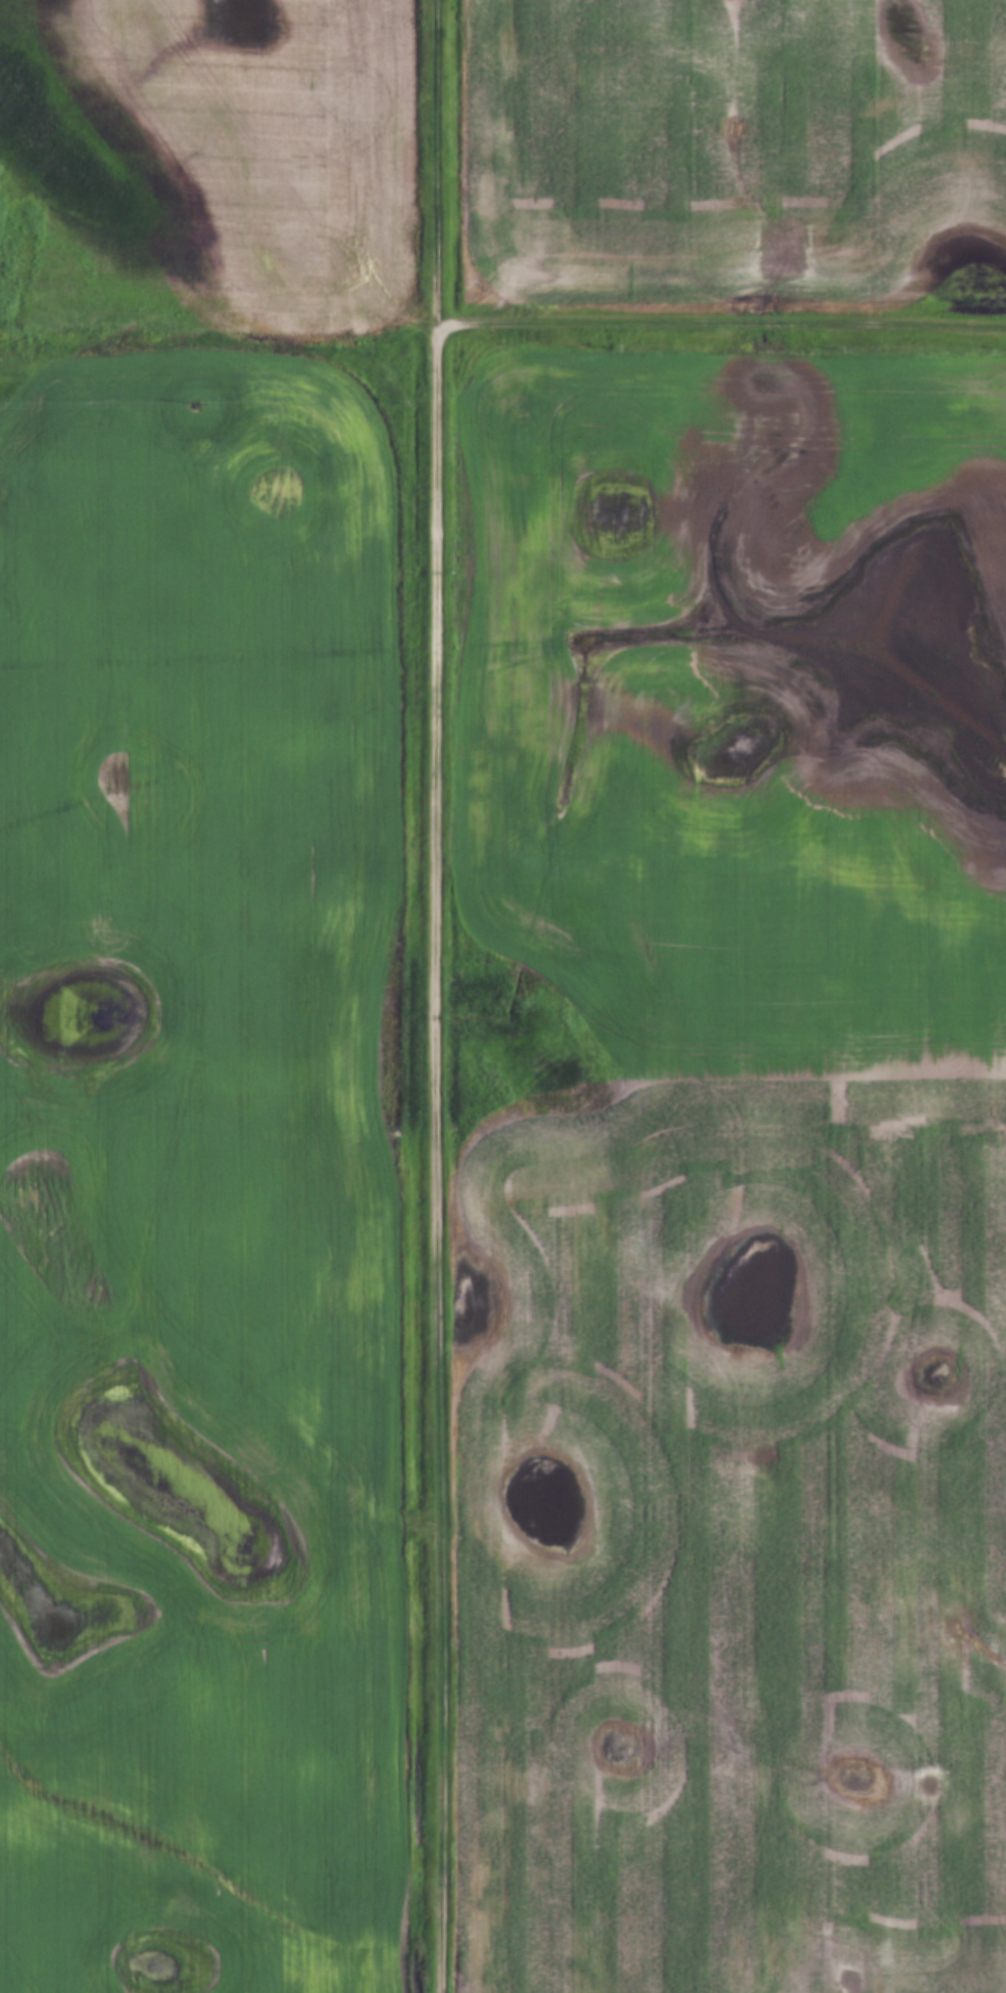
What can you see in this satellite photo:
road: (432, 160)
road: (719, 322)
road: (433, 1157)

